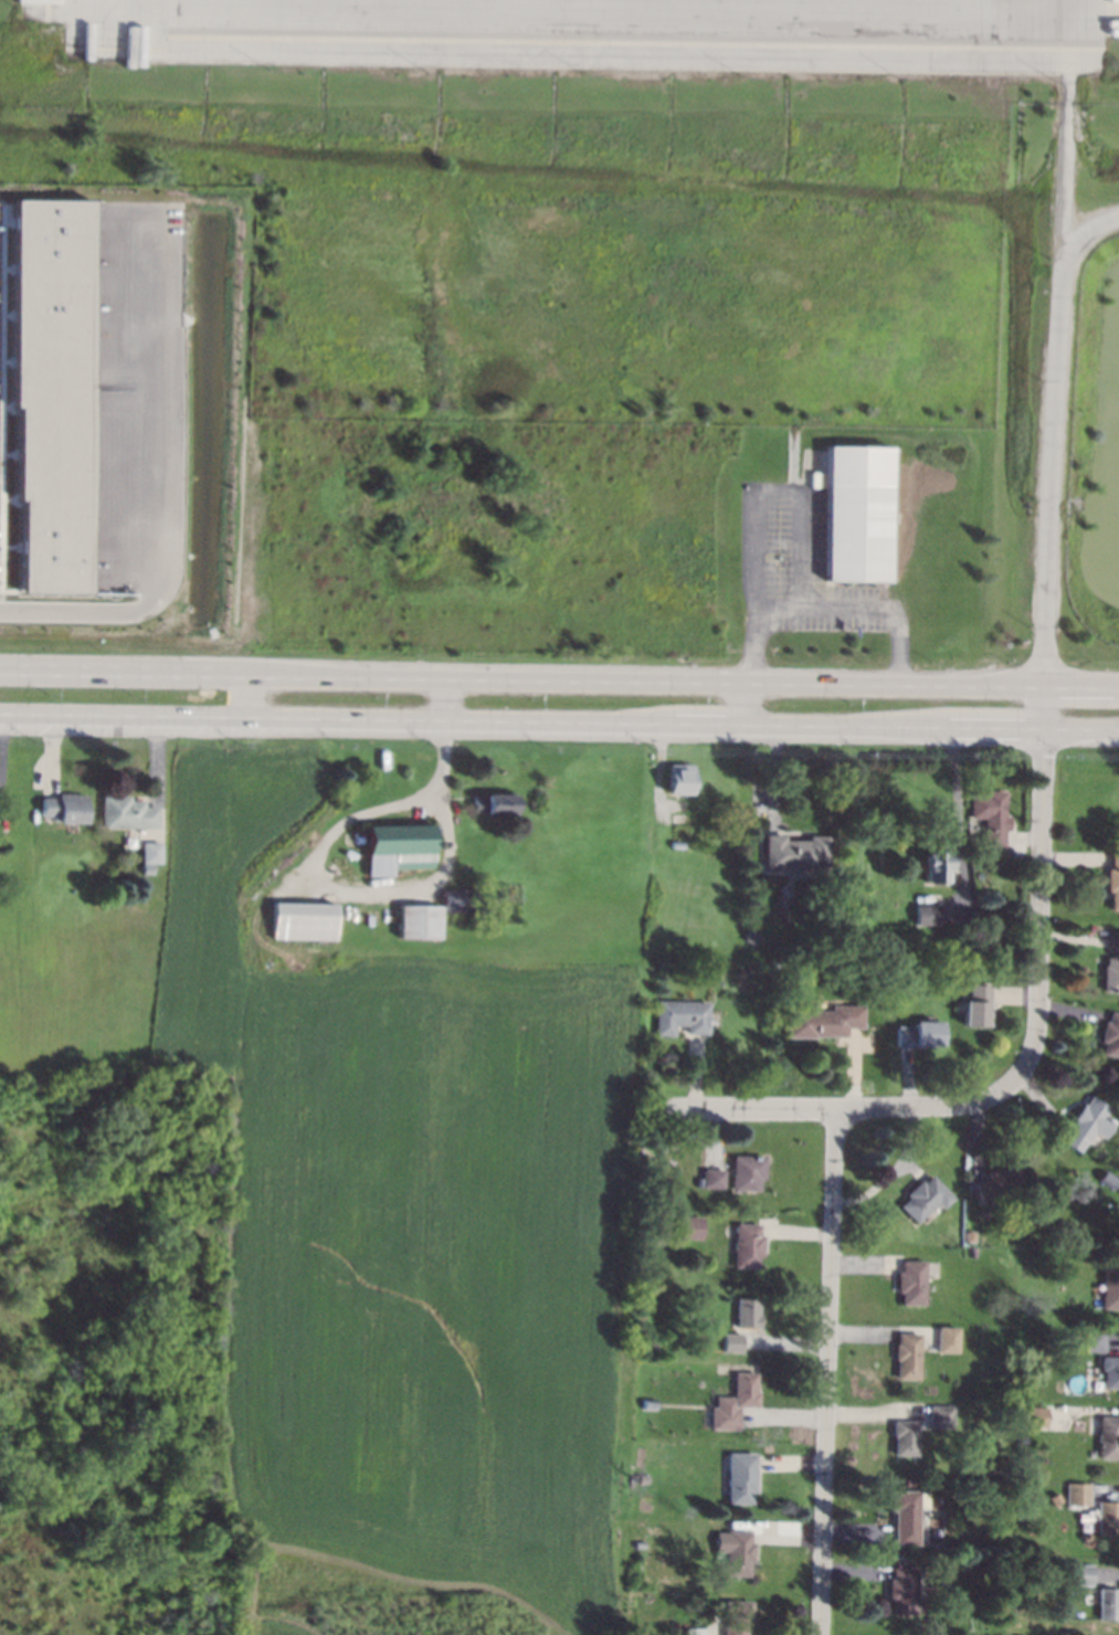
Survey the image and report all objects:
building: (55, 11)
road: (1077, 238)
road: (1049, 340)
building: (50, 389)
road: (158, 481)
road: (770, 486)
building: (856, 532)
road: (800, 605)
road: (559, 676)
road: (247, 698)
road: (448, 700)
road: (559, 728)
building: (678, 778)
building: (492, 802)
building: (63, 806)
building: (125, 812)
building: (989, 814)
building: (679, 818)
building: (397, 847)
building: (149, 852)
building: (795, 852)
building: (935, 862)
building: (978, 874)
building: (1112, 879)
road: (321, 884)
building: (457, 900)
building: (932, 911)
road: (1039, 915)
building: (302, 920)
building: (418, 920)
building: (991, 937)
building: (745, 946)
building: (772, 964)
building: (1110, 964)
building: (975, 1004)
building: (682, 1015)
building: (823, 1021)
building: (919, 1034)
building: (1110, 1035)
road: (811, 1105)
building: (1086, 1124)
building: (746, 1171)
building: (712, 1178)
building: (1108, 1178)
building: (997, 1183)
building: (923, 1196)
crop: (419, 1222)
building: (692, 1226)
building: (969, 1235)
building: (747, 1244)
building: (909, 1281)
building: (1109, 1285)
building: (747, 1312)
building: (946, 1336)
building: (1094, 1338)
building: (730, 1341)
building: (1079, 1343)
building: (650, 1346)
building: (906, 1354)
road: (827, 1370)
building: (1109, 1371)
building: (731, 1402)
building: (648, 1403)
building: (1022, 1412)
building: (1035, 1416)
building: (939, 1420)
building: (1108, 1436)
building: (902, 1437)
building: (740, 1476)
building: (642, 1477)
building: (1077, 1494)
building: (1059, 1498)
building: (906, 1512)
building: (1108, 1517)
building: (1087, 1537)
building: (638, 1544)
building: (735, 1550)
building: (897, 1558)
building: (992, 1568)
building: (1077, 1573)
building: (900, 1591)
building: (1108, 1603)
building: (736, 1616)
building: (694, 1631)

